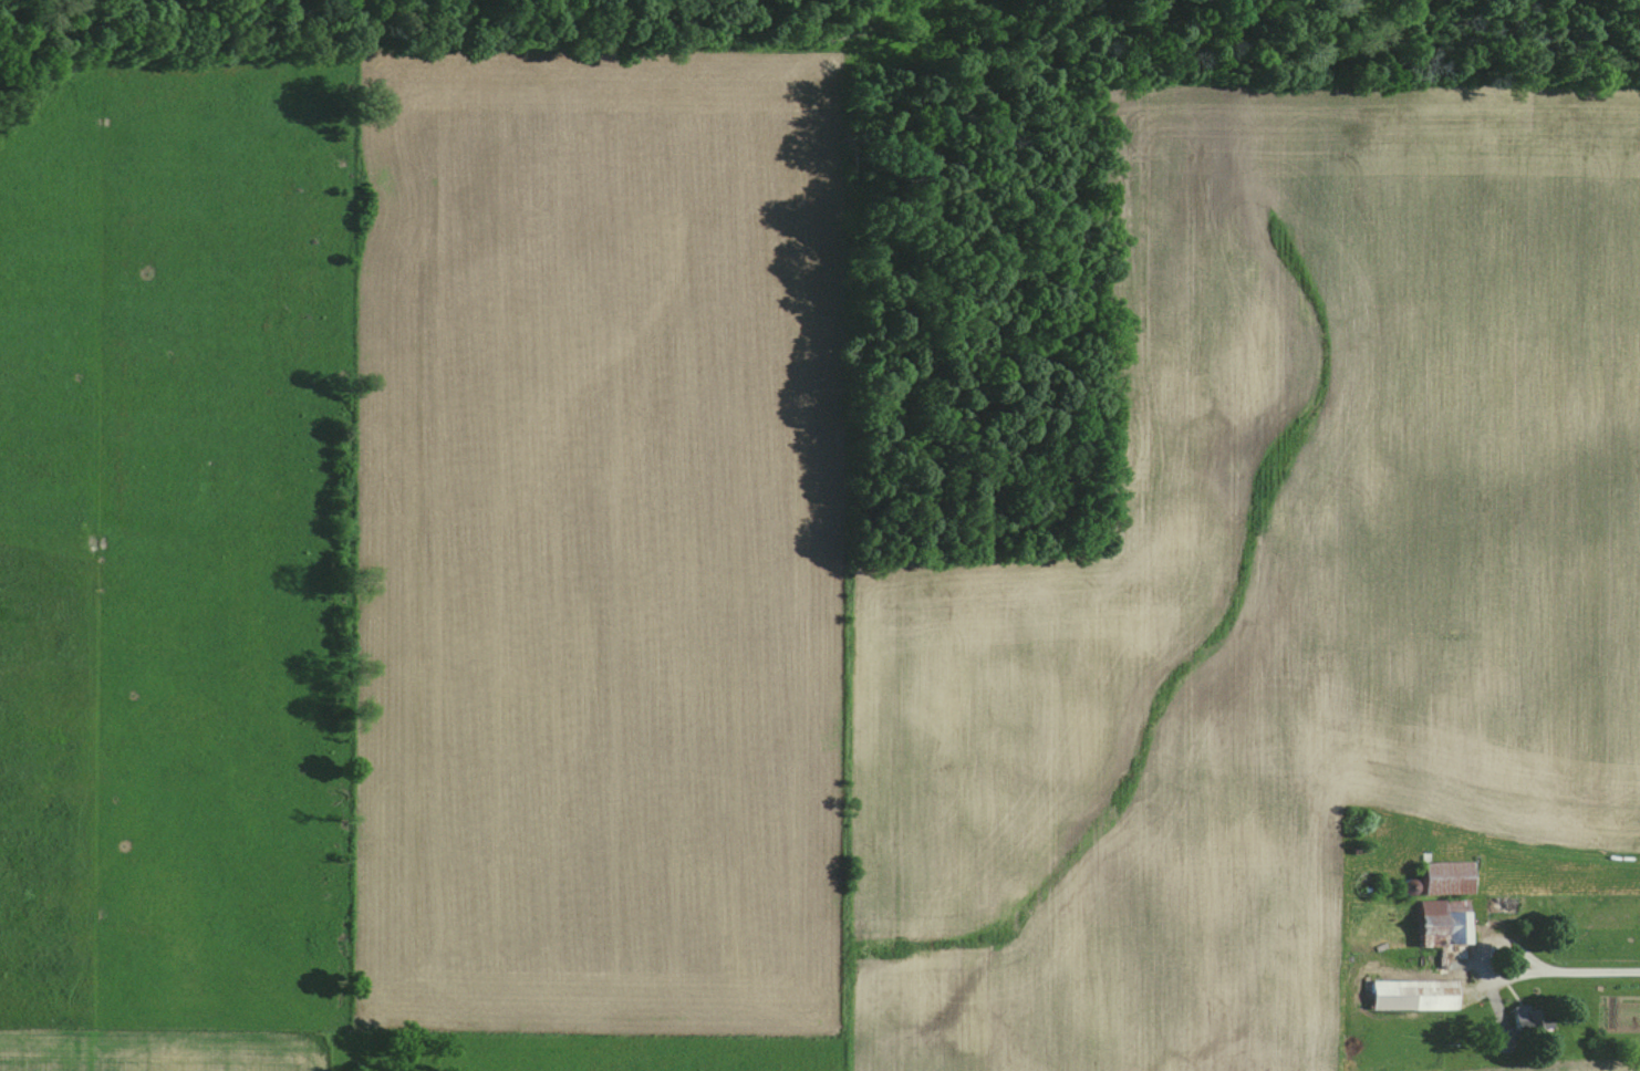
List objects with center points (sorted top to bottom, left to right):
building: (1452, 878)
building: (1449, 923)
road: (1486, 973)
road: (1588, 975)
building: (1419, 996)
building: (1529, 1017)

